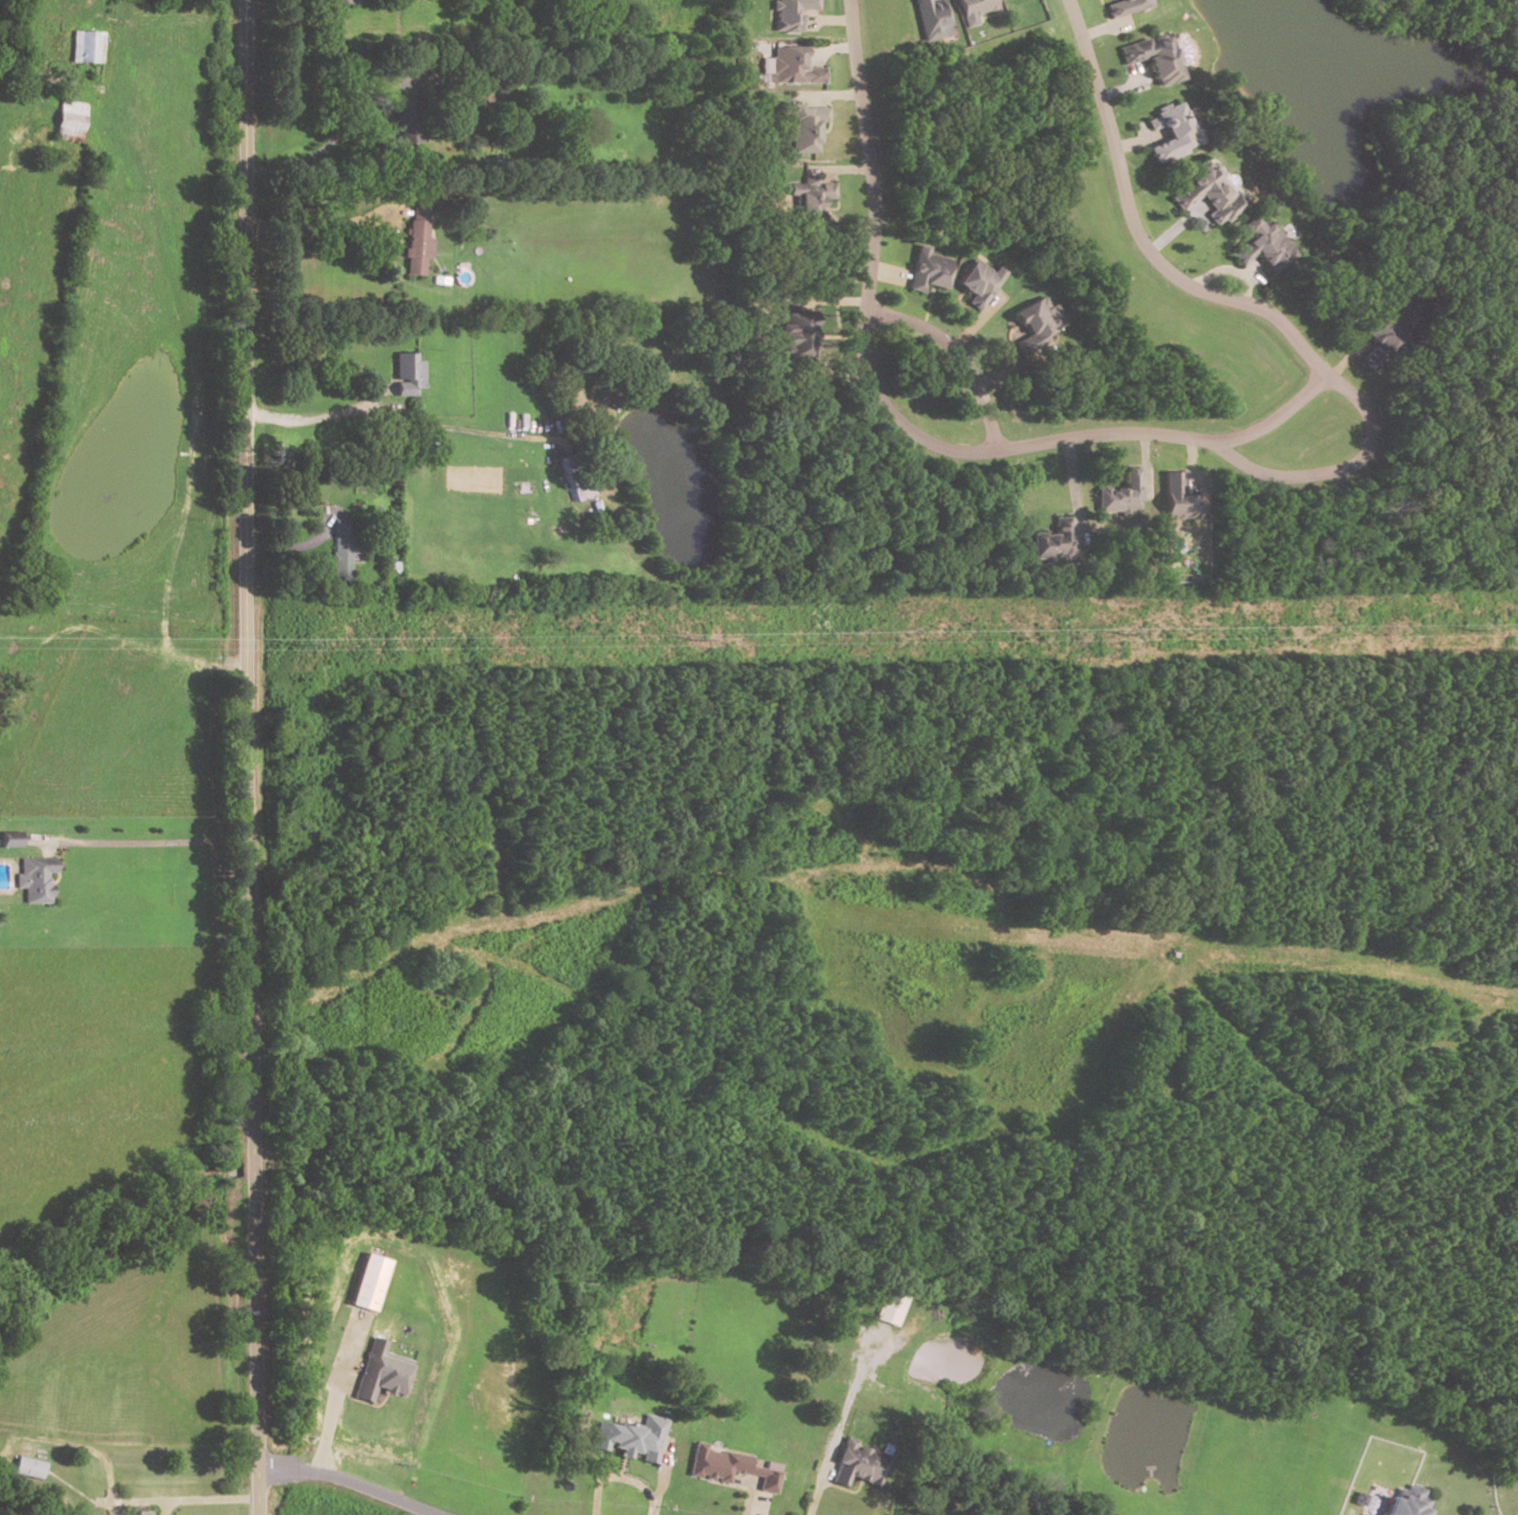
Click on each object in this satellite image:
building: (344, 2)
building: (1124, 6)
building: (972, 7)
building: (790, 14)
building: (928, 19)
building: (86, 48)
road: (827, 50)
building: (1152, 58)
building: (790, 68)
road: (1122, 90)
road: (830, 97)
building: (69, 123)
building: (801, 128)
building: (1169, 134)
road: (1136, 144)
road: (868, 155)
road: (840, 171)
building: (1211, 194)
building: (811, 195)
building: (471, 208)
road: (317, 226)
road: (1135, 231)
road: (1173, 231)
building: (415, 241)
building: (1264, 246)
building: (926, 271)
road: (1229, 271)
road: (885, 275)
building: (438, 281)
building: (978, 284)
road: (830, 302)
road: (964, 307)
road: (927, 308)
road: (975, 323)
building: (1036, 324)
building: (796, 335)
building: (1377, 337)
road: (838, 338)
road: (956, 355)
road: (1345, 360)
road: (1014, 370)
building: (406, 374)
road: (196, 409)
road: (322, 418)
road: (458, 430)
road: (1057, 440)
road: (1144, 462)
road: (1189, 464)
road: (1336, 470)
building: (574, 478)
road: (1072, 490)
building: (1120, 495)
building: (1176, 501)
building: (1051, 545)
road: (294, 548)
building: (345, 550)
road: (247, 757)
building: (9, 841)
road: (140, 844)
building: (33, 879)
building: (365, 1282)
building: (888, 1309)
building: (377, 1373)
road: (332, 1394)
building: (631, 1439)
building: (857, 1465)
building: (29, 1468)
building: (728, 1468)
road: (614, 1478)
road: (659, 1481)
road: (346, 1482)
road: (817, 1492)
road: (747, 1500)
road: (186, 1501)
building: (1405, 1503)
road: (165, 1507)
building: (142, 1513)

